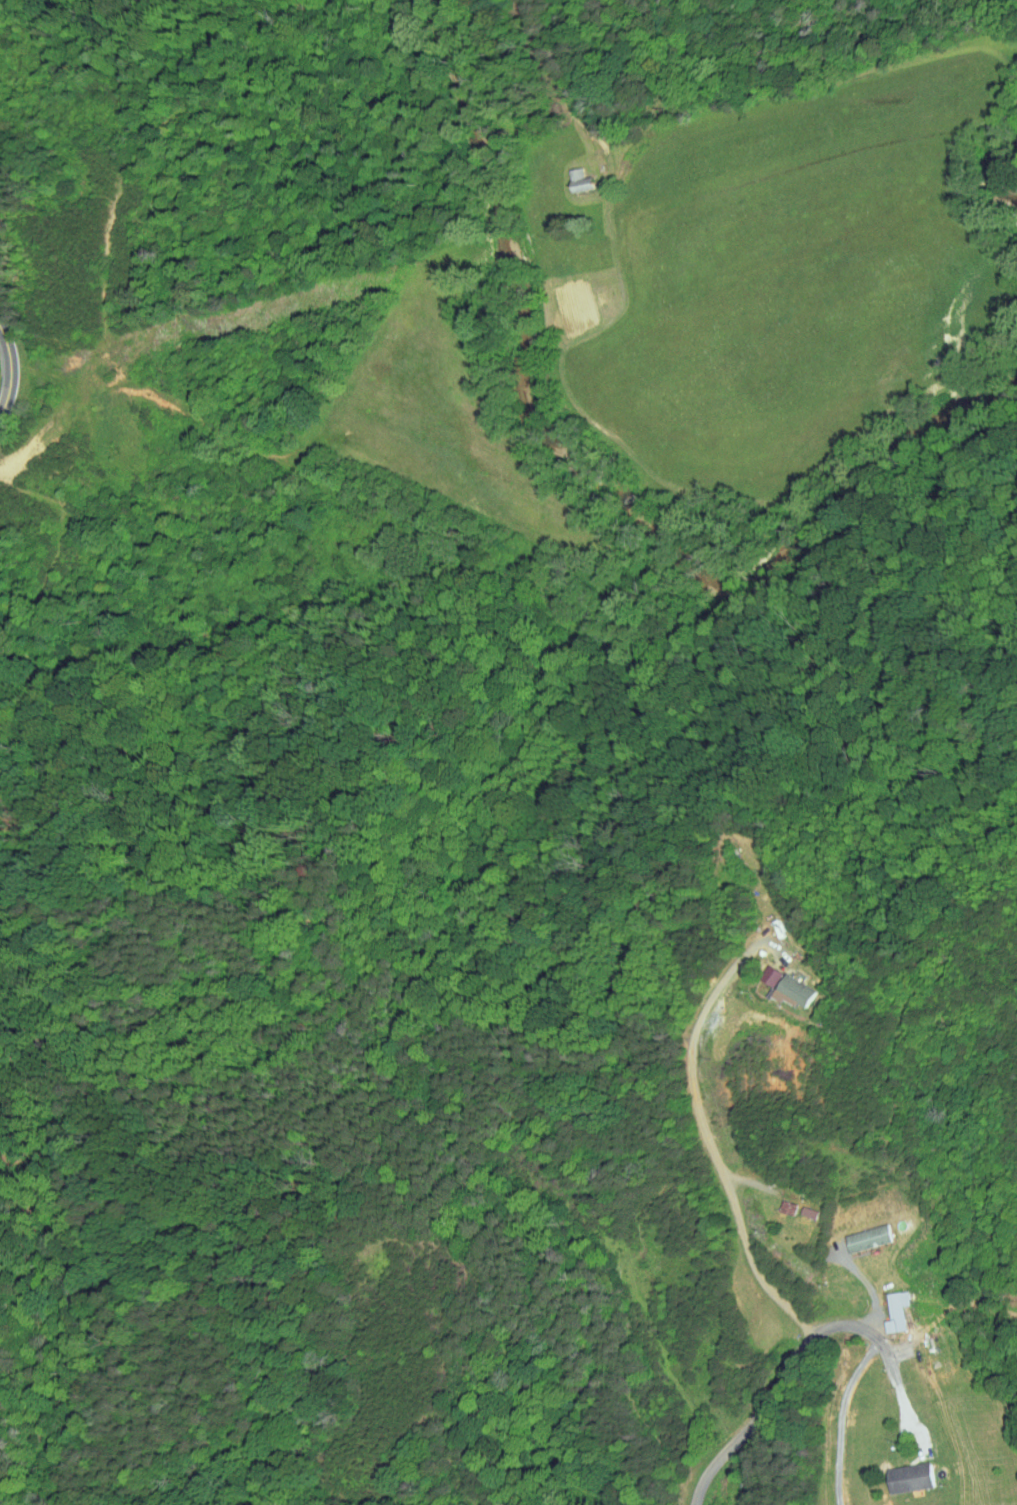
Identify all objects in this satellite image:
road: (596, 144)
building: (568, 174)
road: (6, 375)
building: (758, 971)
building: (769, 976)
building: (792, 992)
road: (685, 1071)
building: (775, 1202)
building: (788, 1207)
building: (856, 1233)
road: (761, 1280)
building: (885, 1305)
building: (897, 1309)
road: (786, 1370)
road: (834, 1416)
building: (910, 1476)

